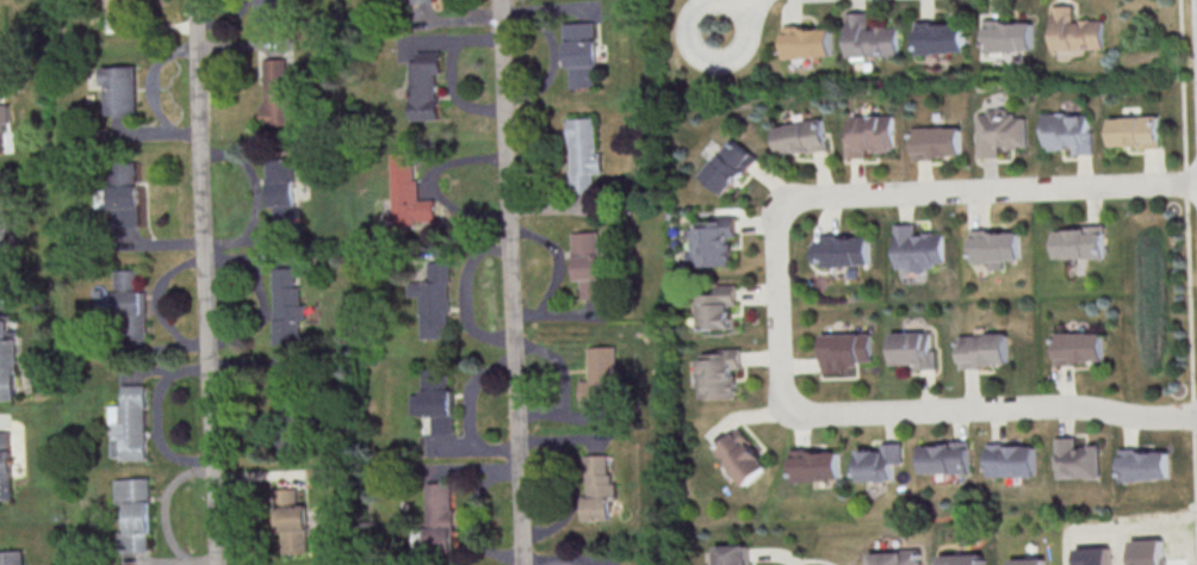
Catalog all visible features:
building: (421, 1)
road: (752, 4)
building: (272, 8)
building: (112, 12)
road: (691, 18)
road: (1180, 21)
building: (1078, 32)
building: (1010, 37)
building: (873, 38)
building: (942, 38)
building: (810, 43)
building: (583, 54)
building: (424, 85)
building: (119, 89)
building: (279, 91)
building: (4, 122)
building: (1068, 131)
building: (1135, 131)
building: (1001, 132)
building: (870, 134)
building: (801, 137)
building: (937, 143)
building: (585, 156)
building: (730, 166)
road: (934, 191)
building: (119, 192)
building: (281, 193)
building: (409, 195)
building: (6, 226)
building: (714, 241)
building: (1080, 242)
building: (997, 247)
building: (918, 248)
building: (843, 252)
building: (590, 265)
road: (207, 281)
road: (513, 282)
building: (434, 299)
building: (130, 300)
building: (287, 306)
building: (719, 306)
building: (914, 348)
building: (1080, 348)
building: (846, 350)
building: (985, 352)
building: (7, 365)
building: (719, 372)
building: (602, 377)
building: (438, 398)
road: (950, 410)
building: (129, 423)
building: (742, 457)
building: (948, 458)
building: (1078, 459)
building: (1013, 460)
building: (880, 461)
building: (1146, 464)
building: (6, 465)
building: (817, 465)
building: (598, 486)
building: (135, 514)
building: (440, 516)
building: (293, 522)
building: (1149, 552)
building: (732, 555)
building: (1093, 555)
building: (12, 557)
building: (895, 558)
building: (962, 559)
building: (1029, 561)

